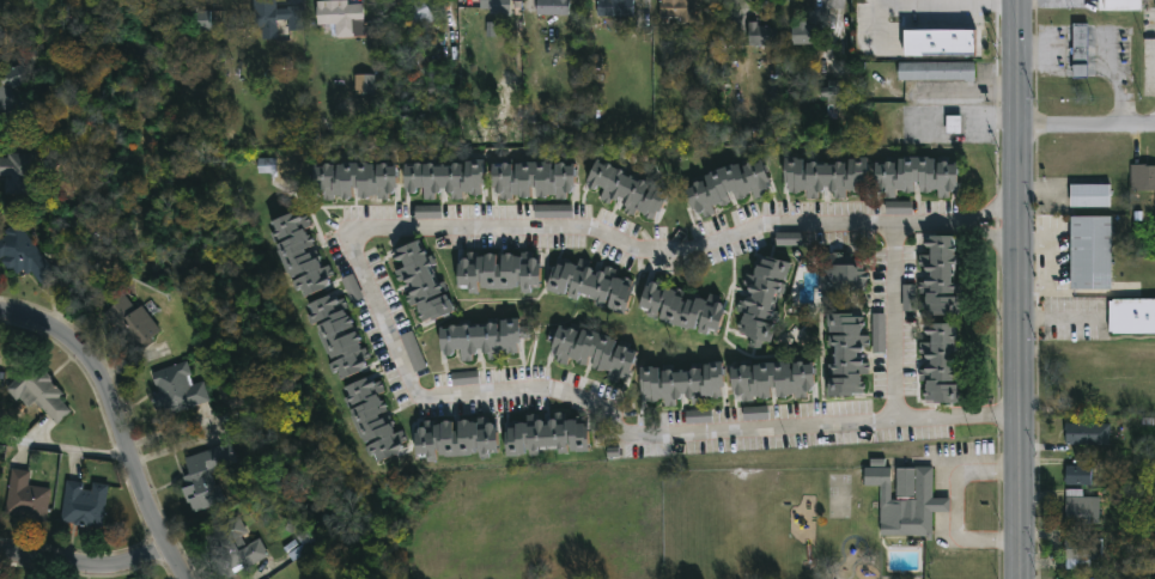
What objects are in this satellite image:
road: (942, 2)
building: (1119, 5)
building: (488, 7)
building: (552, 8)
building: (614, 8)
building: (679, 11)
building: (418, 14)
building: (340, 18)
building: (276, 20)
building: (197, 23)
building: (728, 32)
building: (1, 33)
building: (801, 35)
building: (762, 36)
building: (0, 38)
building: (940, 43)
building: (1080, 50)
building: (935, 72)
building: (365, 84)
building: (10, 90)
road: (968, 93)
building: (953, 124)
road: (1088, 130)
building: (18, 176)
building: (825, 178)
building: (916, 178)
building: (1142, 178)
building: (443, 179)
building: (353, 182)
building: (531, 182)
building: (727, 189)
building: (626, 190)
building: (1089, 196)
building: (898, 208)
building: (427, 212)
building: (553, 212)
building: (789, 239)
building: (1090, 254)
building: (299, 255)
building: (23, 256)
road: (682, 257)
building: (498, 272)
building: (937, 276)
building: (420, 282)
building: (840, 282)
building: (590, 286)
building: (352, 288)
road: (1020, 288)
building: (908, 298)
building: (761, 299)
building: (680, 309)
building: (1131, 316)
road: (1062, 318)
road: (382, 329)
building: (132, 331)
building: (879, 333)
road: (894, 333)
building: (336, 337)
building: (479, 342)
building: (413, 352)
building: (591, 353)
building: (845, 355)
building: (938, 364)
building: (464, 378)
building: (771, 383)
building: (679, 384)
building: (177, 390)
building: (43, 398)
building: (755, 413)
building: (699, 416)
building: (372, 421)
road: (116, 422)
building: (1088, 434)
building: (546, 438)
building: (454, 440)
road: (712, 443)
road: (63, 450)
building: (1078, 475)
building: (203, 480)
building: (25, 500)
building: (905, 501)
road: (956, 505)
building: (84, 506)
building: (1081, 508)
building: (238, 553)
building: (1081, 554)
road: (84, 569)

